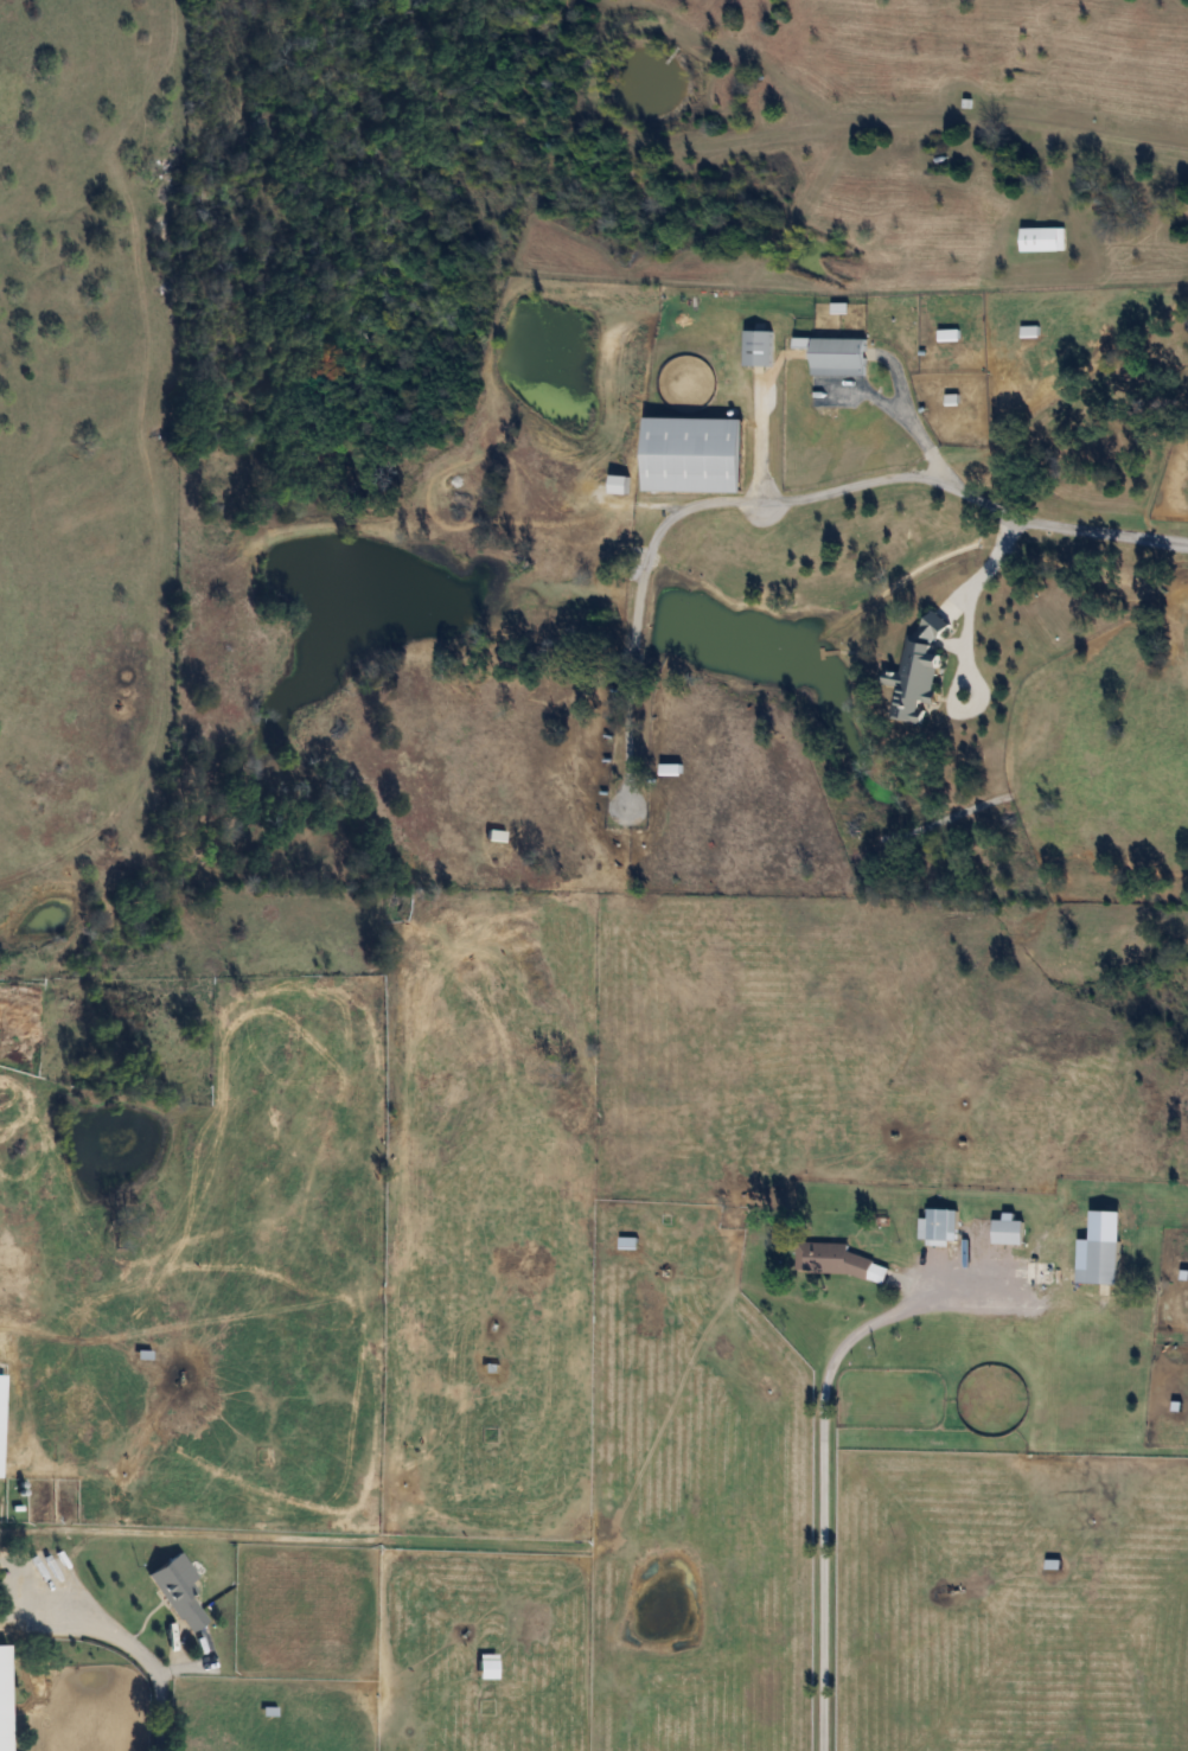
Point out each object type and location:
building: (1043, 238)
building: (758, 347)
building: (839, 356)
building: (695, 454)
building: (620, 484)
road: (798, 487)
road: (989, 564)
building: (919, 670)
building: (670, 768)
building: (496, 836)
building: (941, 1226)
building: (12, 1250)
building: (835, 1261)
building: (1101, 1264)
building: (990, 1272)
building: (1, 1420)
road: (818, 1443)
building: (180, 1595)
road: (121, 1642)
road: (185, 1674)
building: (4, 1700)

